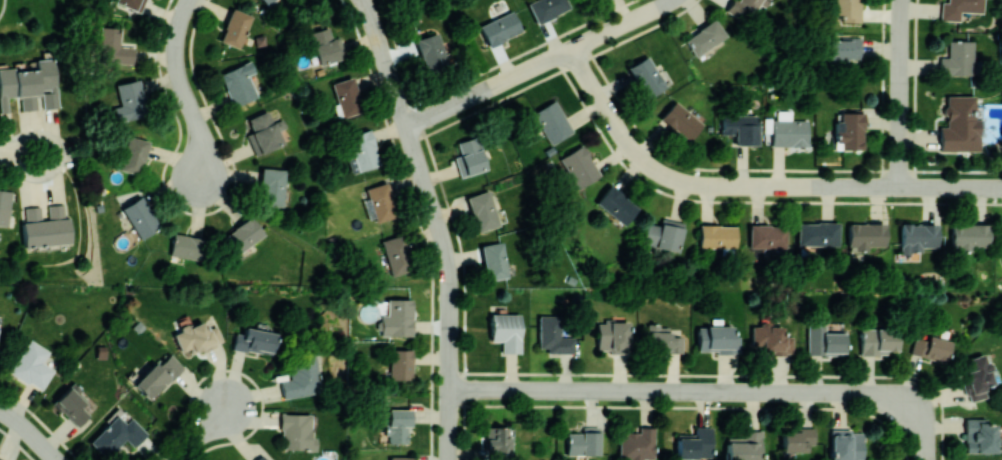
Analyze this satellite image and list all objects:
building: (404, 0)
building: (267, 1)
building: (131, 4)
road: (2, 6)
building: (546, 8)
building: (741, 8)
building: (958, 8)
building: (847, 9)
road: (621, 25)
building: (234, 28)
building: (499, 28)
building: (704, 37)
building: (326, 45)
building: (113, 46)
building: (841, 50)
building: (432, 53)
building: (957, 58)
building: (645, 76)
building: (238, 82)
building: (30, 85)
road: (489, 88)
road: (183, 89)
road: (900, 93)
building: (347, 96)
building: (128, 100)
building: (680, 120)
building: (551, 121)
building: (958, 124)
building: (740, 128)
building: (849, 129)
building: (265, 130)
building: (788, 130)
road: (18, 151)
building: (362, 151)
building: (132, 154)
building: (469, 156)
building: (579, 166)
road: (651, 166)
building: (271, 186)
road: (802, 186)
road: (907, 187)
road: (751, 200)
building: (380, 201)
building: (616, 204)
building: (5, 206)
building: (483, 210)
building: (139, 216)
road: (438, 224)
building: (45, 226)
building: (1001, 232)
building: (818, 233)
building: (968, 233)
building: (664, 234)
building: (241, 235)
building: (717, 235)
building: (866, 235)
building: (767, 236)
building: (917, 236)
building: (186, 246)
building: (396, 254)
building: (494, 260)
building: (397, 318)
building: (506, 331)
building: (553, 335)
building: (197, 336)
building: (612, 336)
building: (771, 339)
building: (254, 340)
building: (662, 340)
building: (716, 340)
building: (824, 340)
building: (877, 341)
building: (930, 347)
building: (400, 363)
building: (32, 365)
building: (975, 375)
building: (157, 376)
building: (300, 376)
road: (680, 392)
building: (71, 404)
building: (398, 424)
building: (296, 431)
road: (30, 432)
building: (116, 435)
road: (199, 435)
building: (978, 435)
building: (797, 438)
road: (917, 438)
building: (583, 441)
building: (497, 442)
building: (694, 443)
building: (636, 444)
building: (846, 444)
building: (744, 446)
building: (261, 458)
building: (399, 458)
building: (0, 459)

